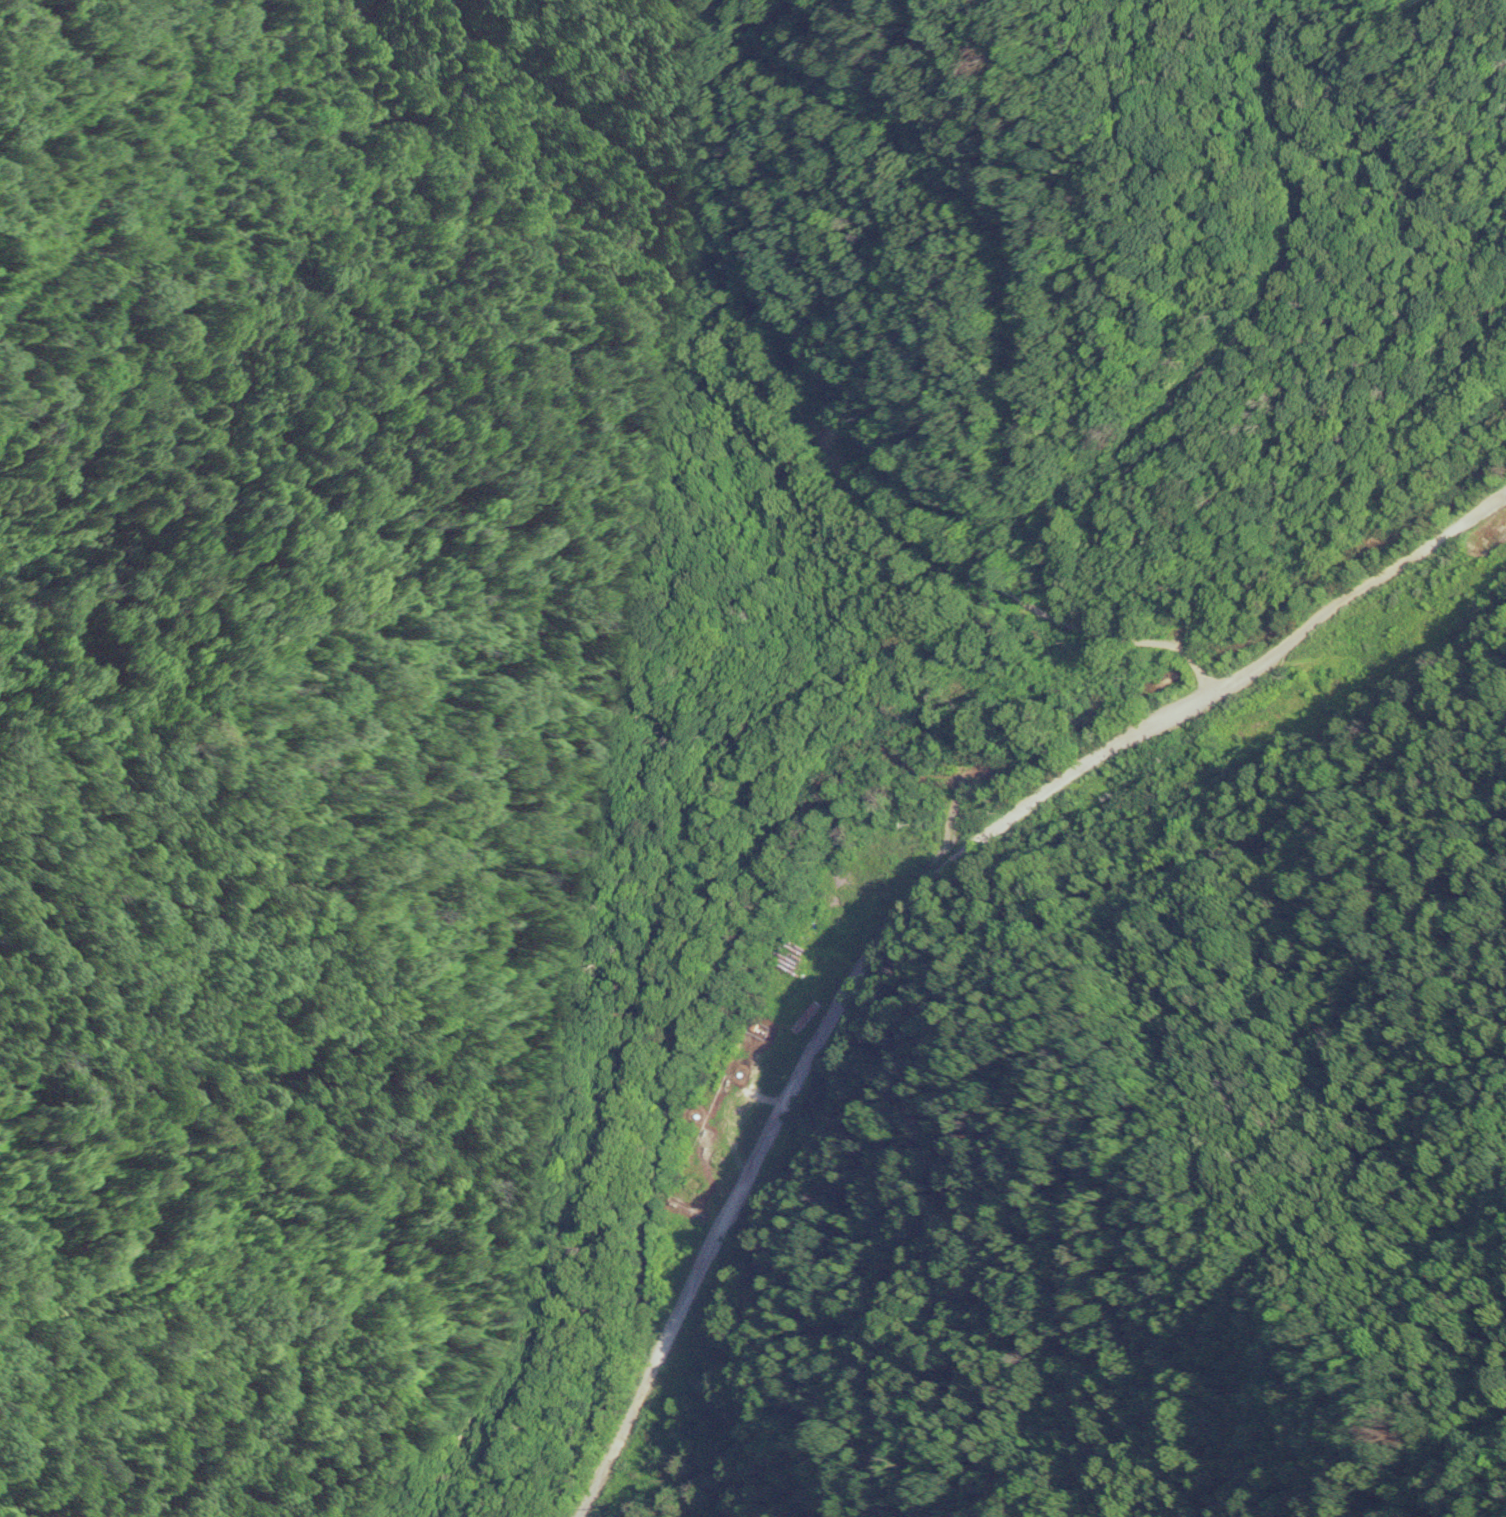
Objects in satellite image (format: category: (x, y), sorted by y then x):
road: (722, 416)
road: (933, 912)
road: (1263, 1378)

